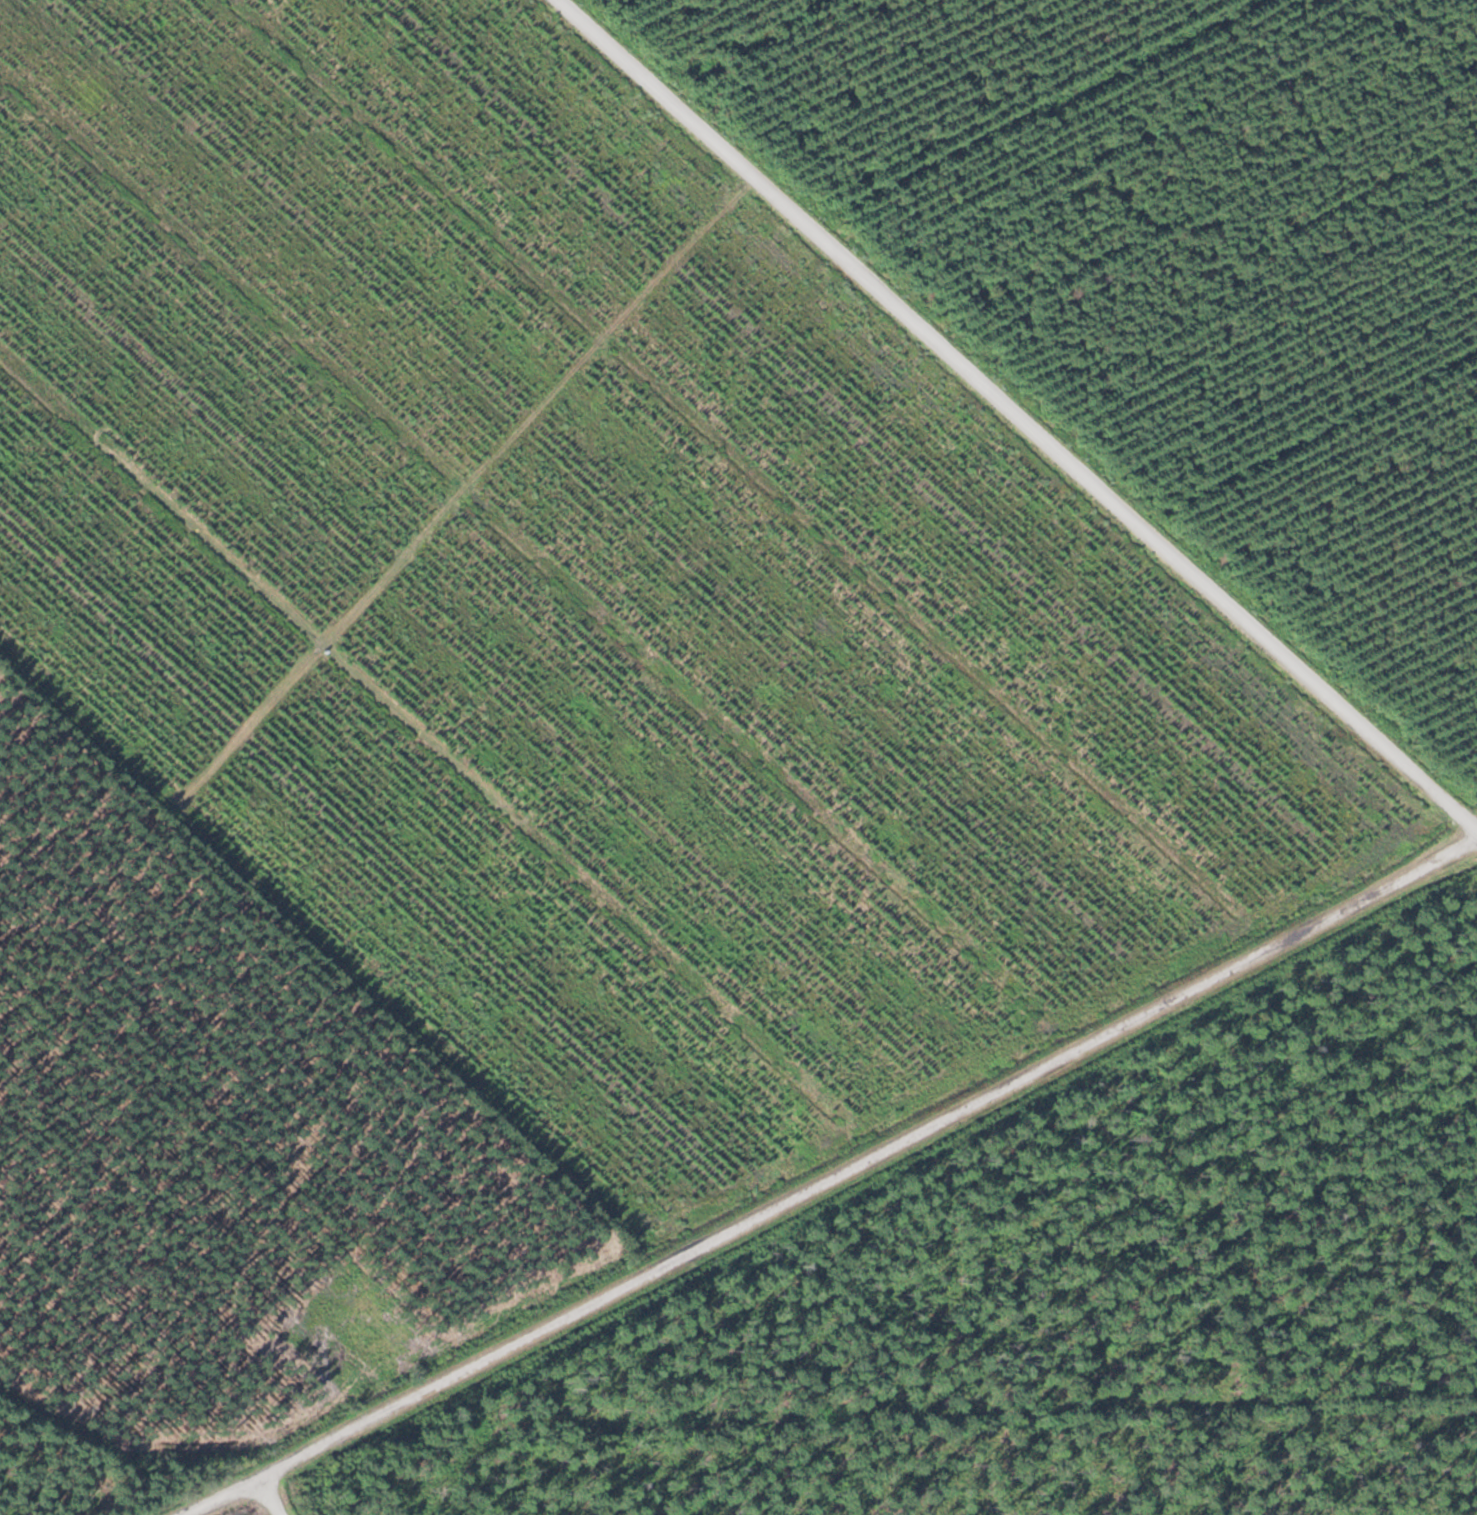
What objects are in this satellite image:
road: (1019, 412)
road: (833, 1179)
road: (271, 1497)

